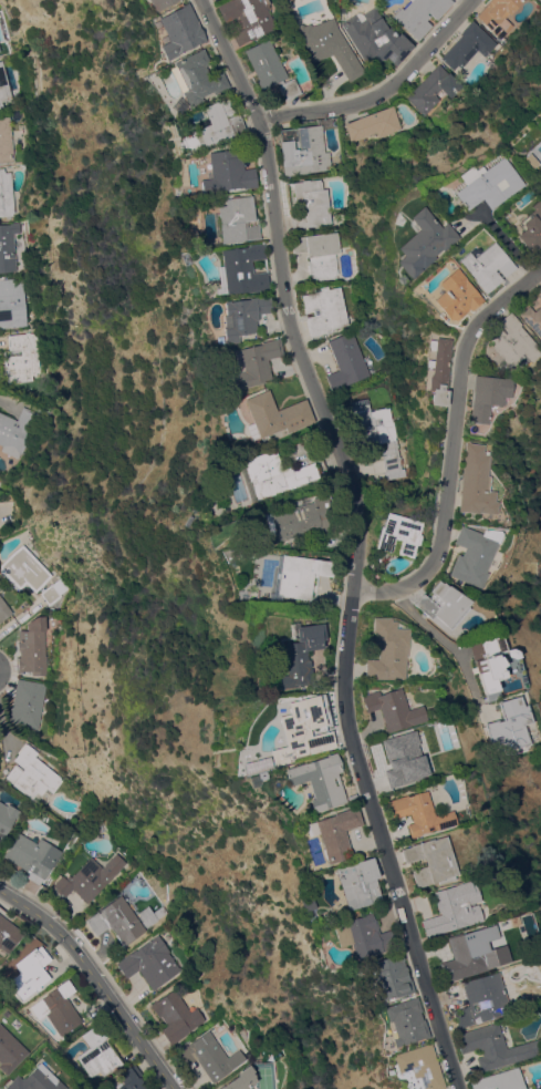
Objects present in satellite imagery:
building: (159, 3)
building: (419, 14)
building: (498, 14)
building: (248, 18)
building: (178, 31)
building: (374, 37)
building: (329, 45)
building: (467, 47)
building: (270, 69)
building: (195, 76)
building: (3, 85)
road: (384, 89)
building: (433, 89)
building: (176, 105)
building: (217, 123)
building: (373, 123)
building: (6, 140)
building: (184, 140)
building: (303, 150)
building: (528, 160)
building: (227, 172)
building: (538, 173)
building: (488, 183)
building: (7, 193)
building: (309, 204)
building: (237, 219)
building: (530, 226)
road: (497, 234)
building: (423, 242)
building: (8, 246)
building: (319, 253)
building: (486, 266)
building: (245, 268)
building: (538, 292)
building: (455, 295)
building: (13, 302)
building: (324, 309)
building: (242, 316)
building: (532, 319)
building: (511, 340)
building: (23, 357)
building: (347, 361)
building: (253, 363)
building: (439, 371)
building: (487, 395)
building: (274, 414)
building: (17, 431)
building: (379, 433)
road: (452, 442)
building: (274, 473)
building: (475, 481)
building: (301, 518)
building: (399, 535)
road: (356, 538)
building: (474, 554)
building: (25, 568)
building: (298, 574)
building: (55, 590)
building: (443, 605)
building: (3, 609)
building: (496, 625)
road: (441, 637)
building: (33, 646)
building: (387, 649)
building: (512, 653)
building: (300, 655)
building: (488, 662)
building: (28, 702)
building: (393, 709)
building: (510, 722)
building: (302, 730)
building: (402, 759)
building: (32, 774)
building: (261, 775)
building: (249, 780)
building: (319, 780)
building: (419, 812)
building: (7, 816)
building: (334, 832)
building: (32, 855)
building: (430, 861)
building: (89, 877)
building: (357, 882)
building: (303, 900)
building: (454, 908)
building: (152, 915)
building: (116, 921)
building: (8, 932)
building: (361, 935)
building: (467, 953)
building: (150, 962)
building: (30, 973)
building: (389, 976)
road: (97, 977)
building: (482, 999)
building: (58, 1007)
building: (176, 1015)
building: (406, 1020)
building: (495, 1046)
building: (10, 1050)
building: (97, 1051)
building: (210, 1057)
building: (419, 1065)
building: (241, 1079)
building: (35, 1080)
building: (131, 1080)
building: (499, 1080)

